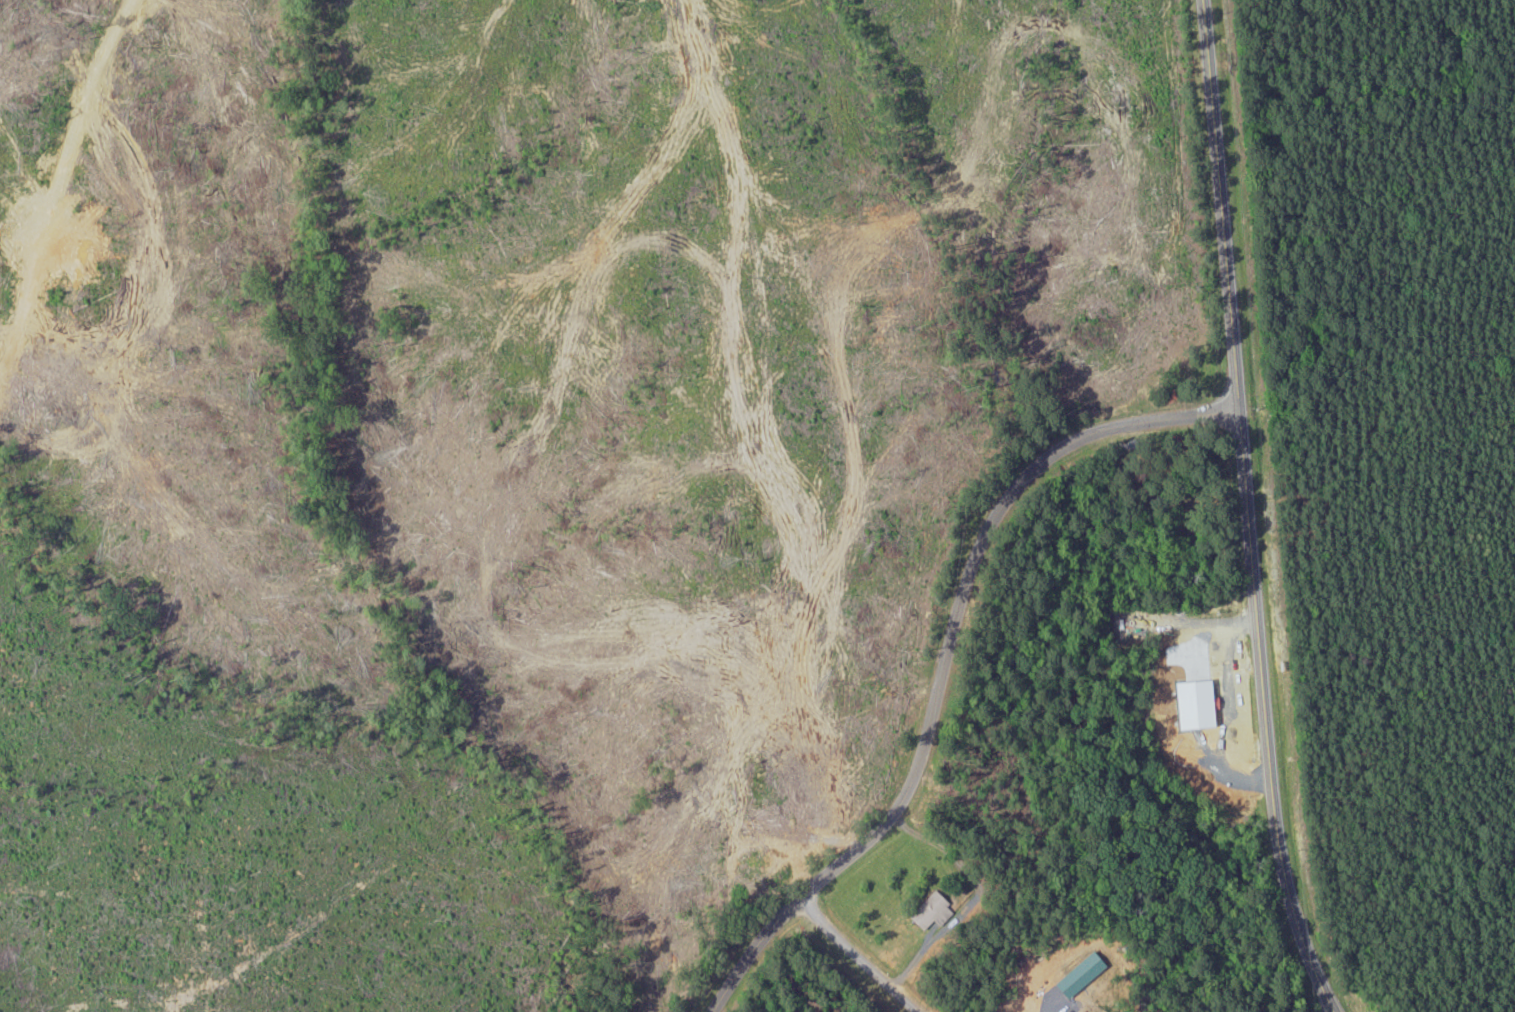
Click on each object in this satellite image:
road: (1247, 510)
road: (945, 662)
building: (926, 912)
road: (858, 950)

